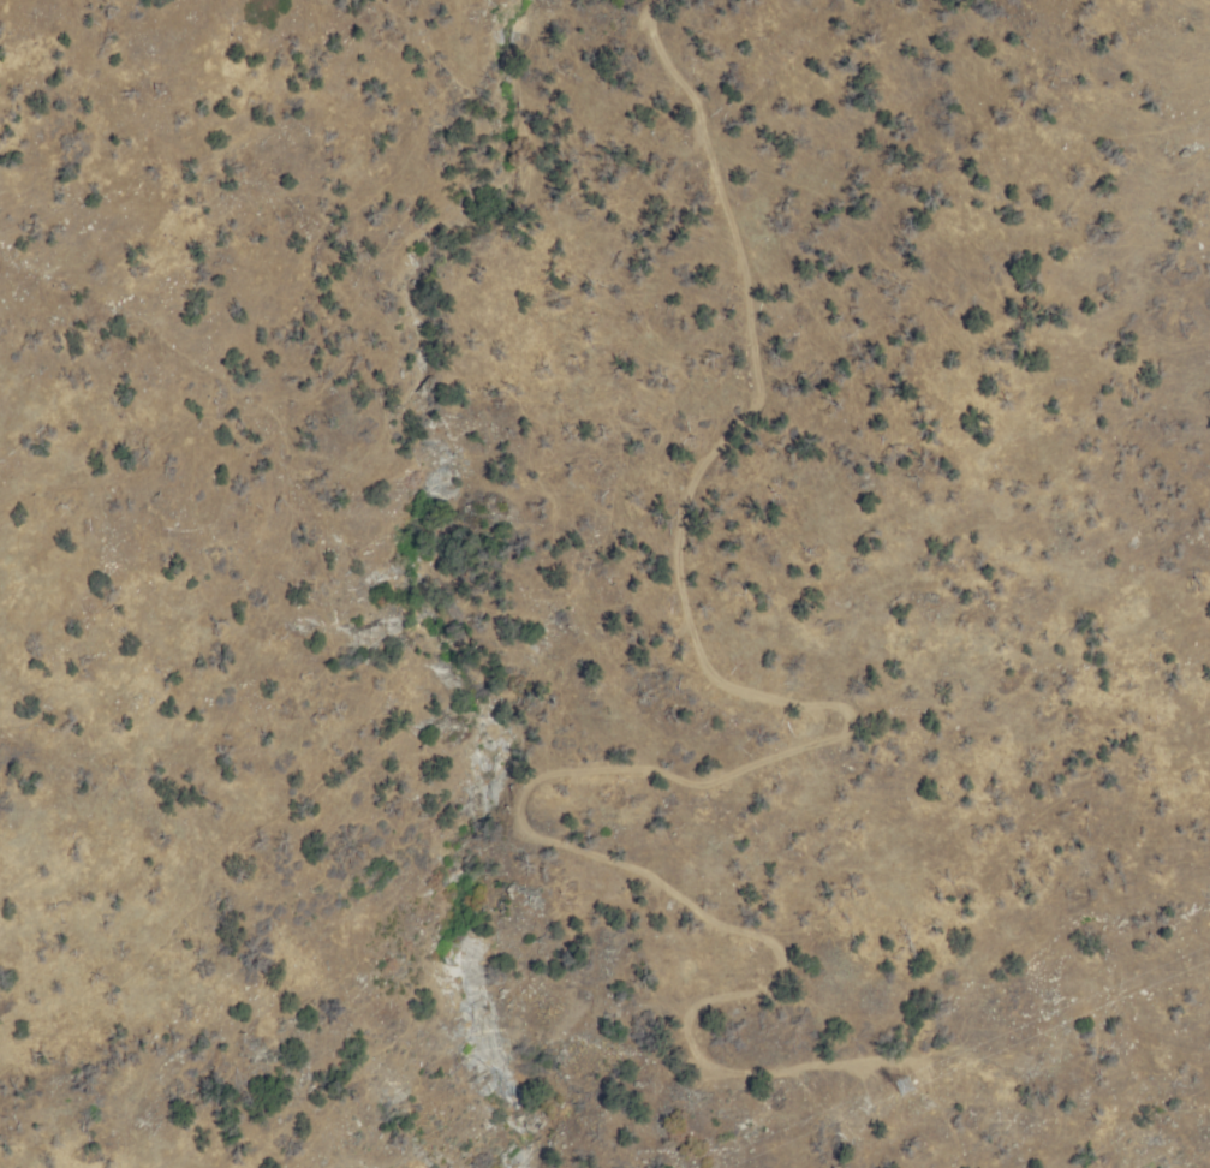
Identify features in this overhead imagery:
power tower: (884, 1084)

